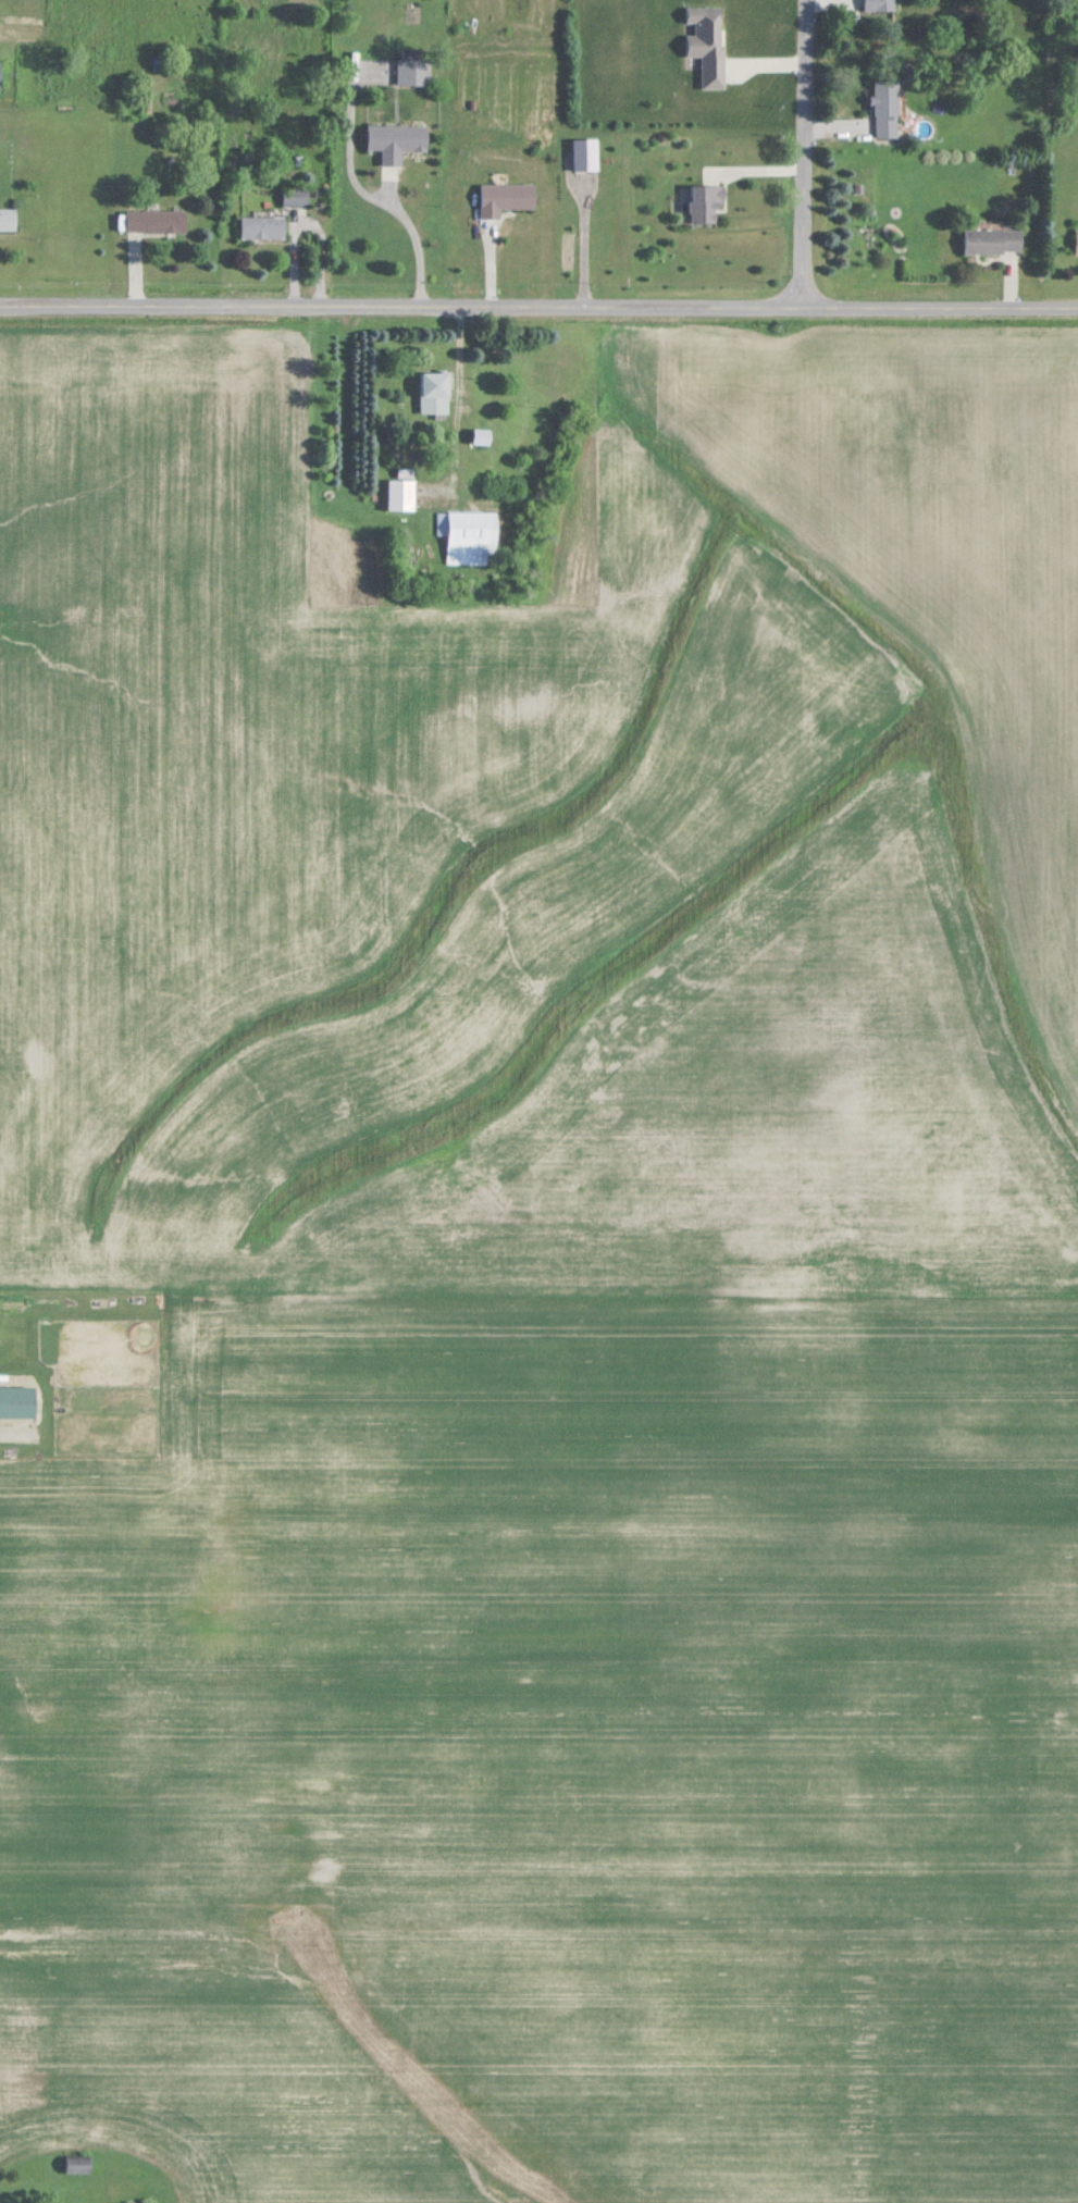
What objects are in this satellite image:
building: (884, 5)
building: (709, 42)
building: (414, 67)
building: (1, 75)
building: (889, 109)
building: (398, 140)
road: (804, 154)
building: (508, 198)
building: (708, 203)
building: (9, 219)
building: (158, 221)
building: (265, 226)
road: (421, 236)
building: (994, 240)
building: (1077, 240)
road: (538, 309)
building: (561, 375)
building: (435, 392)
building: (482, 436)
building: (401, 494)
building: (470, 534)
building: (80, 2165)

